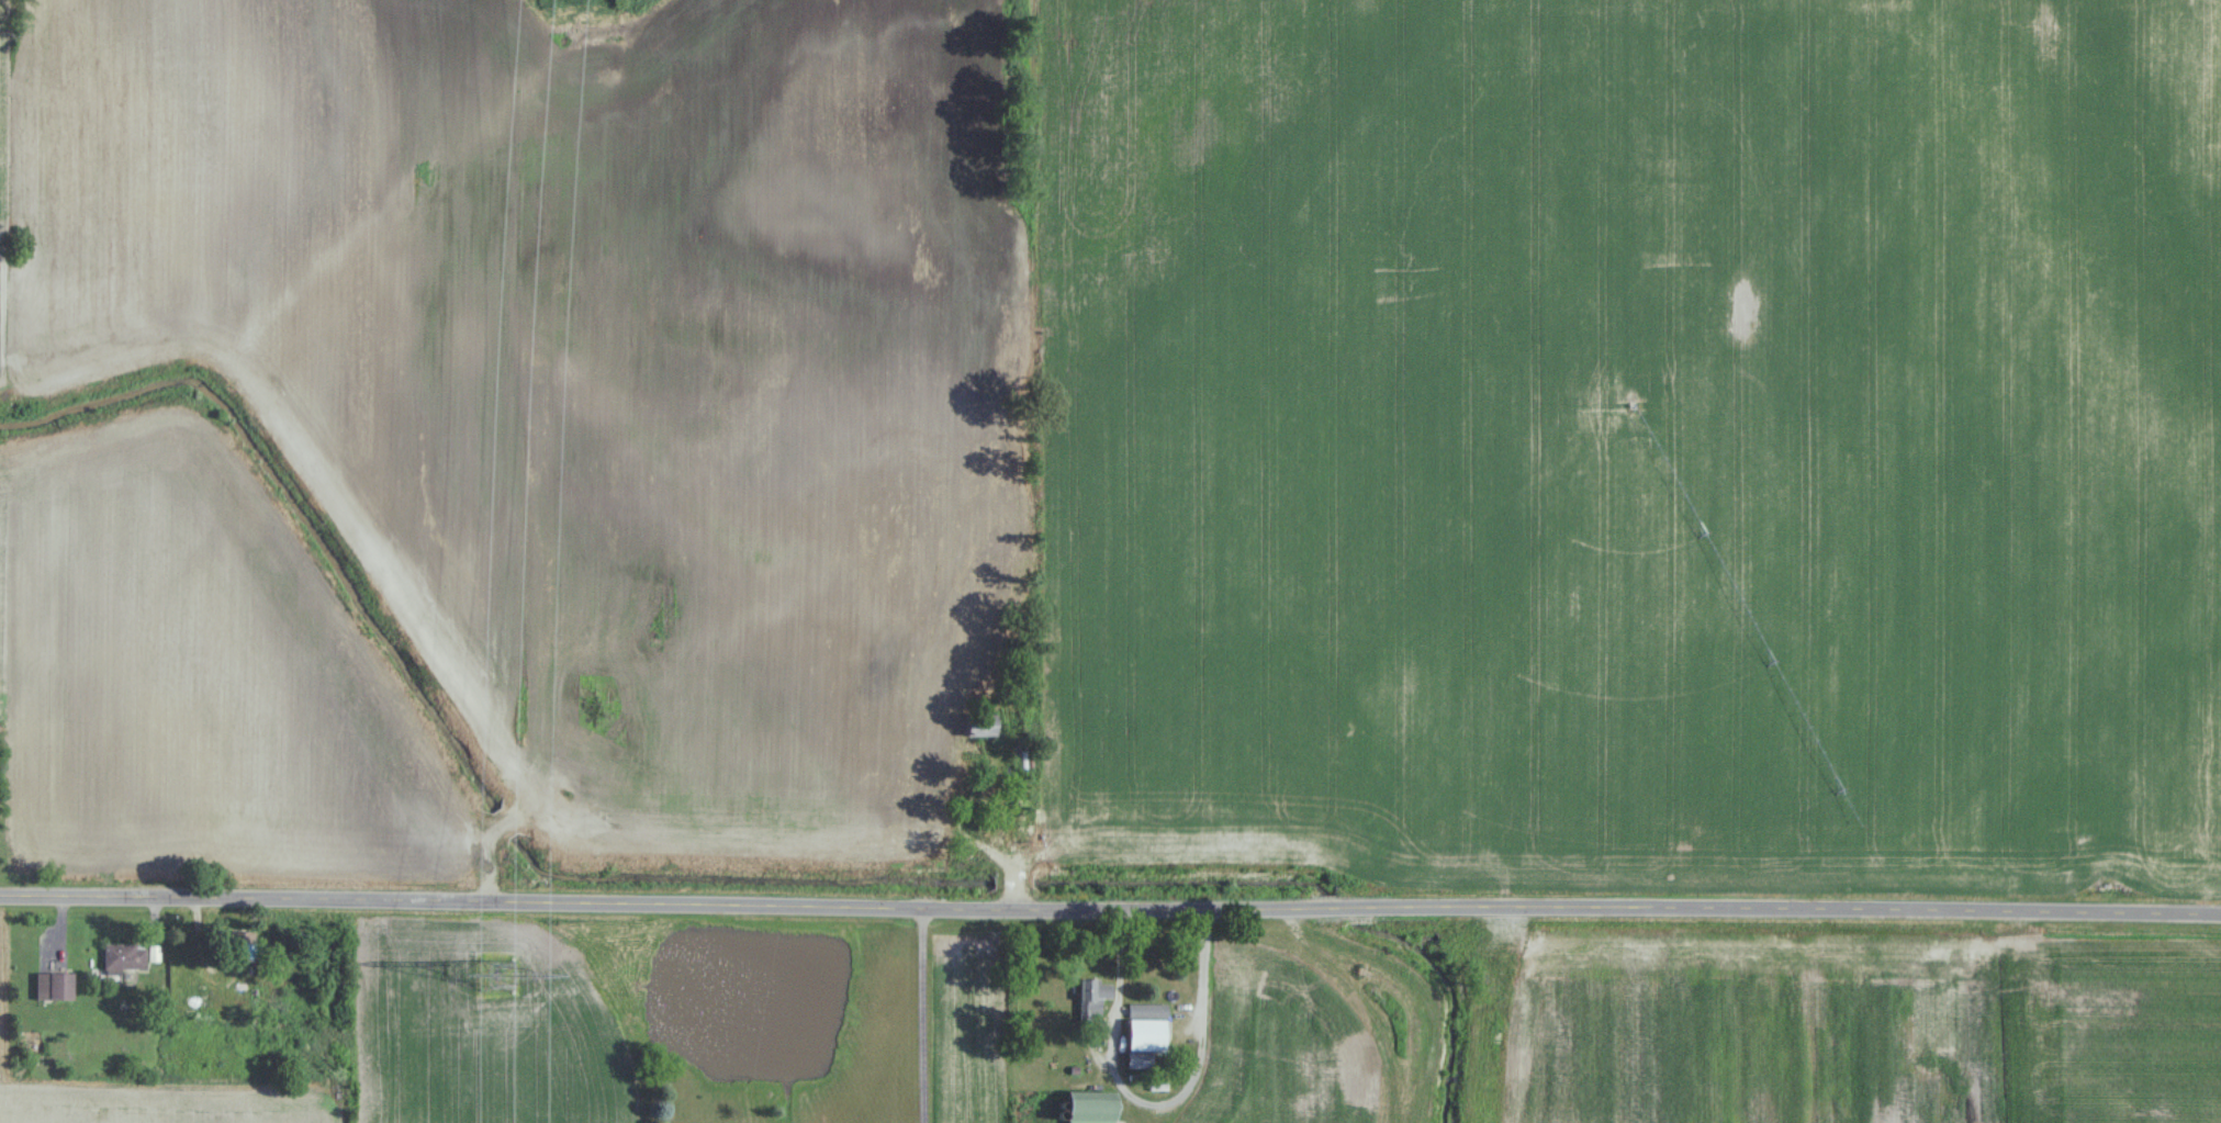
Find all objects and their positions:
building: (986, 727)
road: (1110, 910)
building: (128, 956)
power tower: (503, 972)
building: (58, 985)
building: (1096, 996)
building: (200, 1004)
road: (924, 1015)
building: (1151, 1026)
road: (1155, 1102)
building: (1097, 1107)

